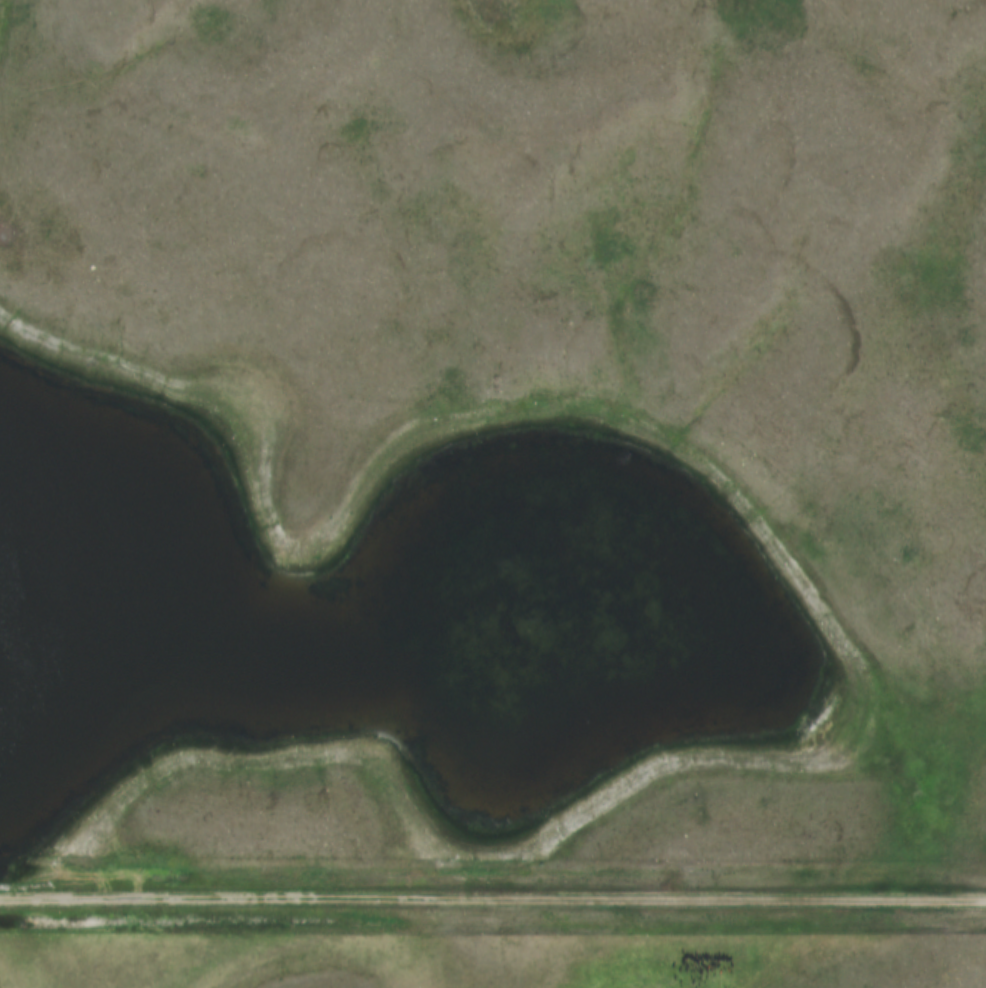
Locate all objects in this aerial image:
road: (493, 901)

